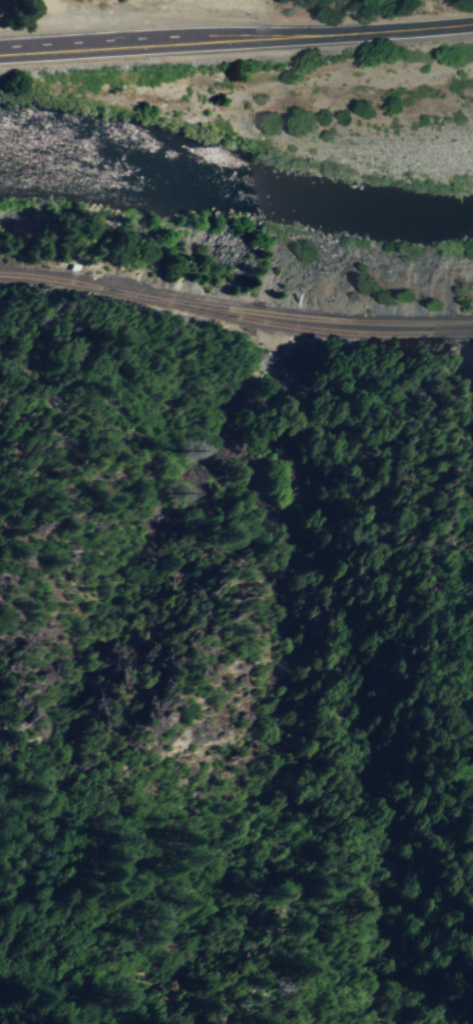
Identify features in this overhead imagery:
road: (399, 28)
road: (163, 42)
river: (235, 187)
railway: (235, 309)
railway: (270, 322)

